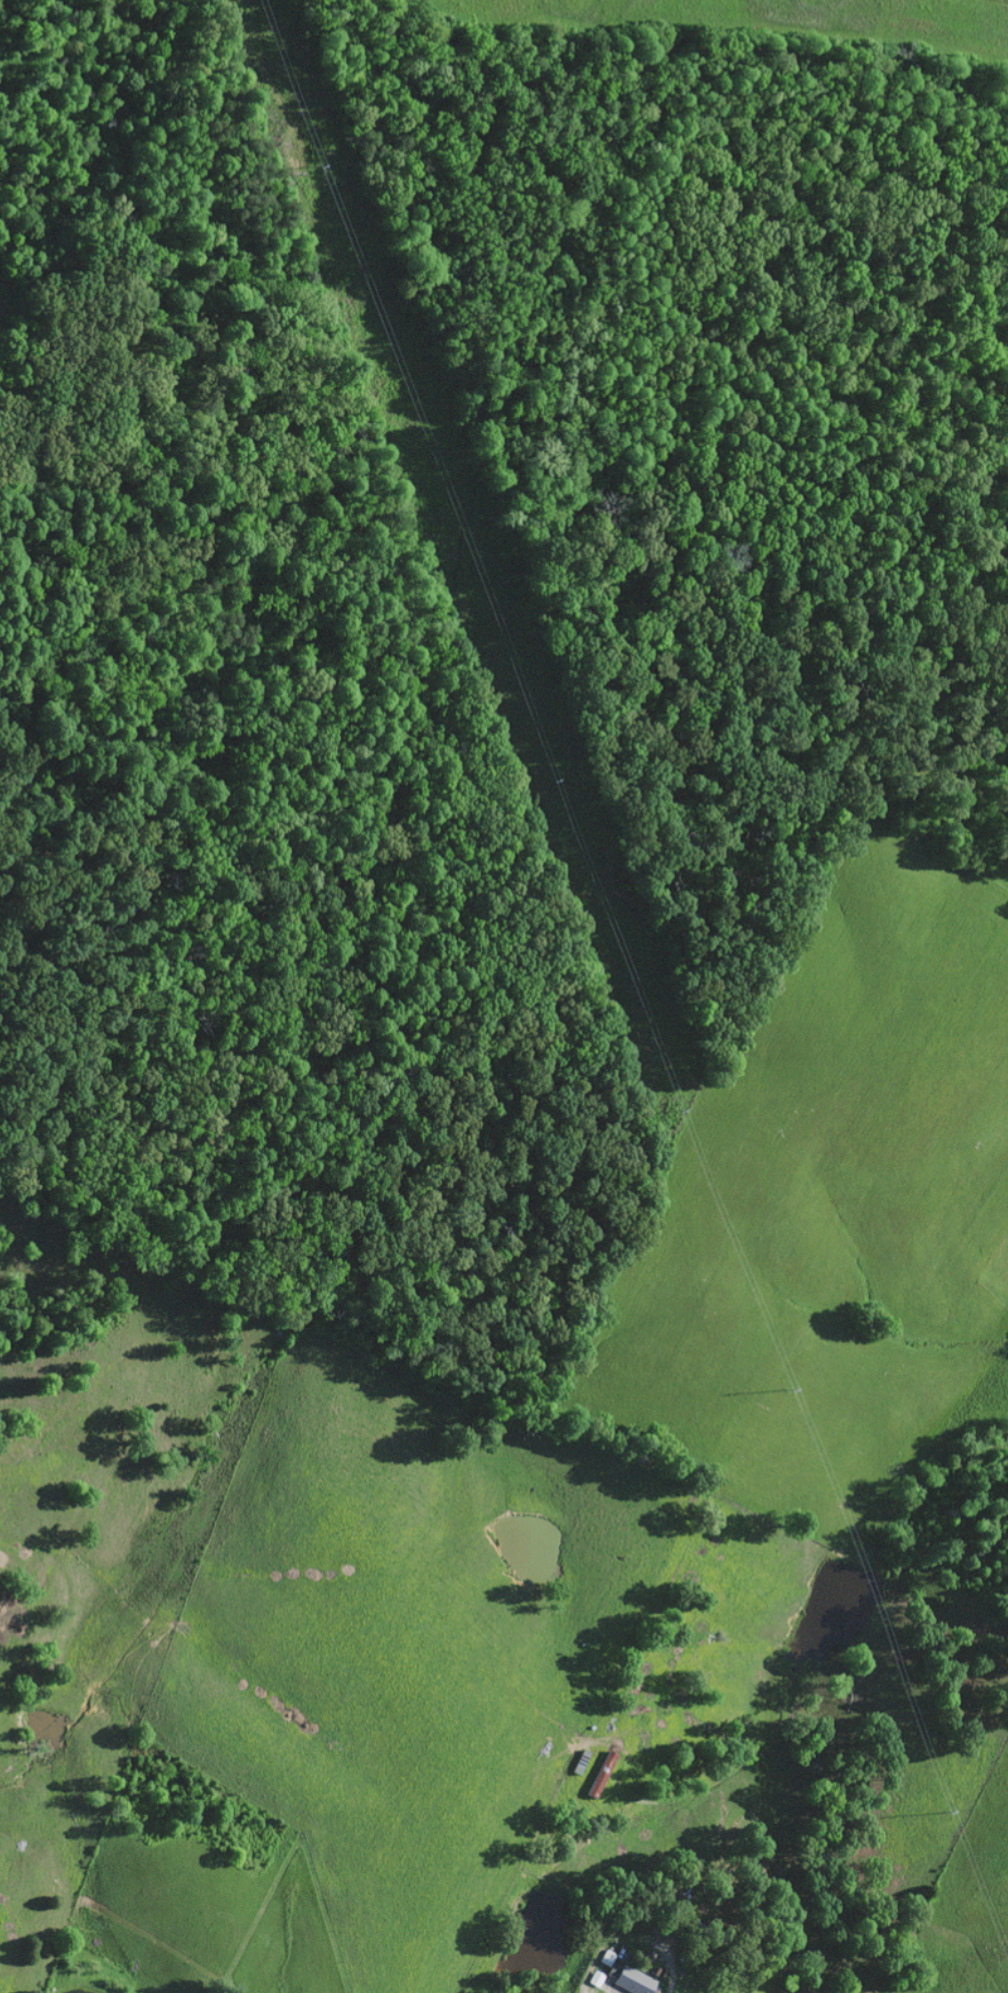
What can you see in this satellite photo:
building: (579, 1759)
building: (600, 1772)
building: (670, 1902)
building: (595, 1977)
building: (633, 1978)

